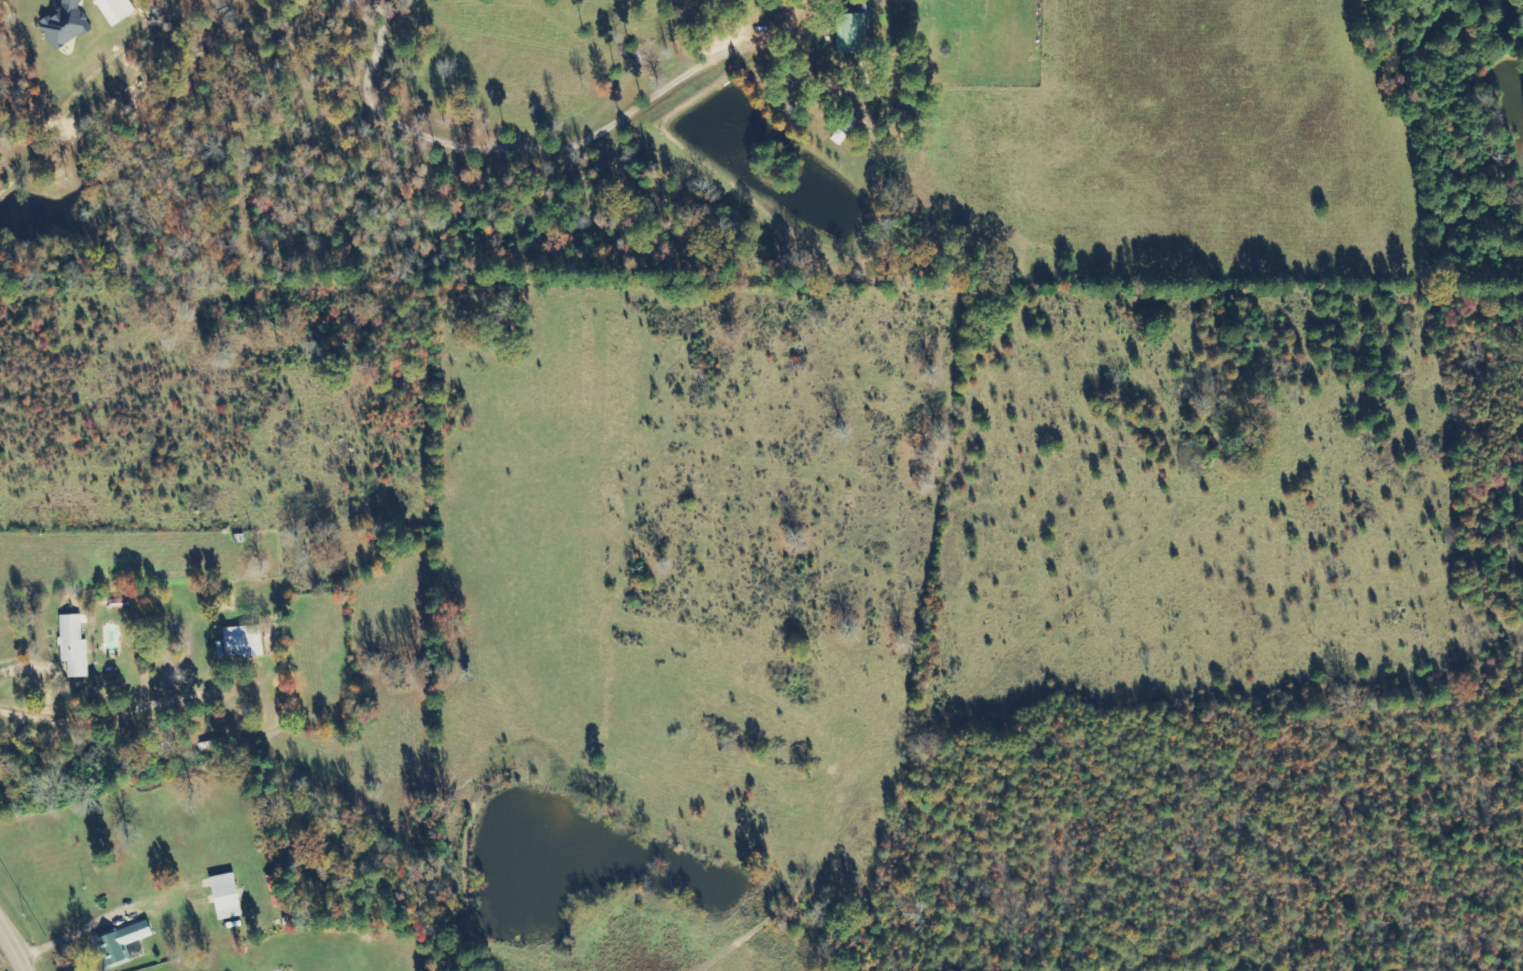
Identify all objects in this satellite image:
building: (112, 10)
building: (62, 24)
building: (846, 32)
building: (237, 642)
building: (70, 645)
building: (221, 896)
road: (11, 942)
building: (121, 942)

